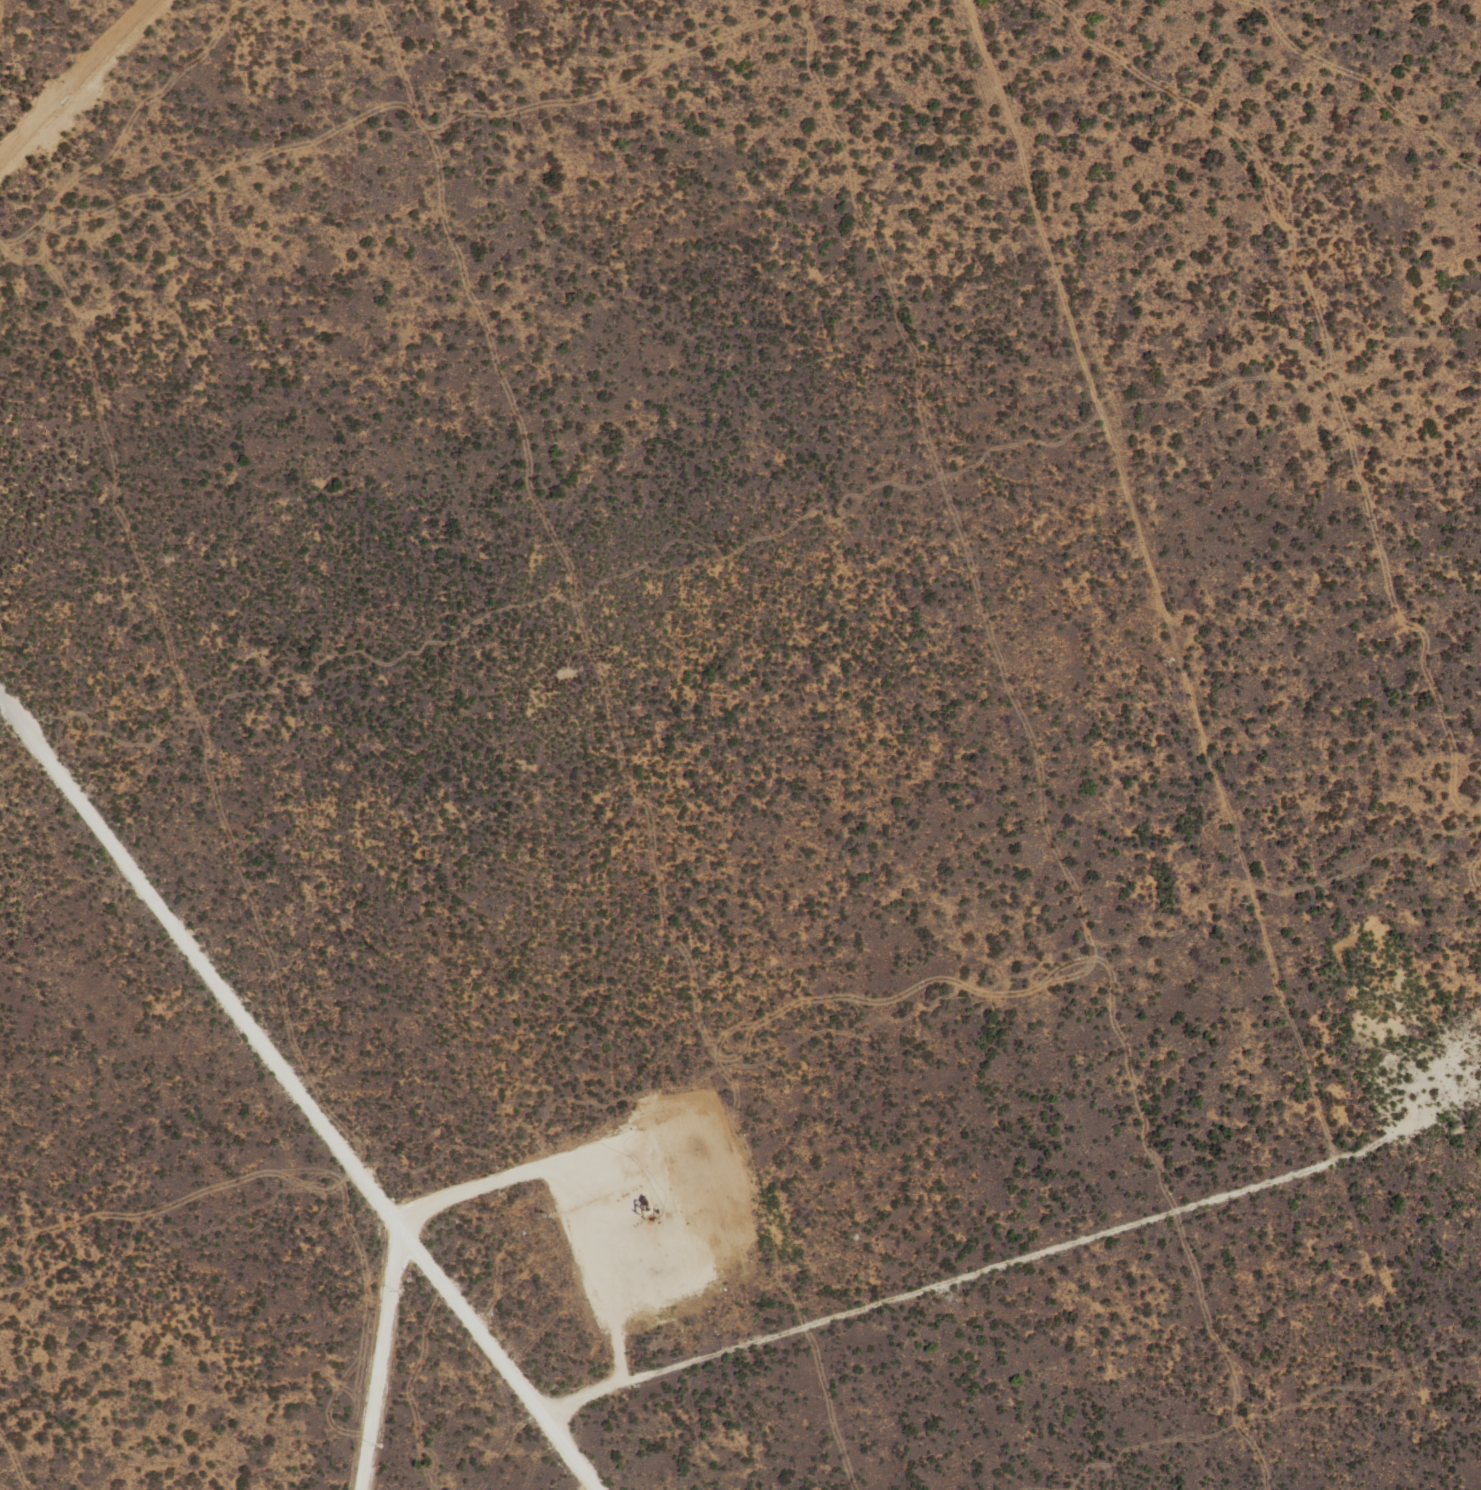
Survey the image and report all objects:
road: (309, 1081)
road: (1003, 1284)

